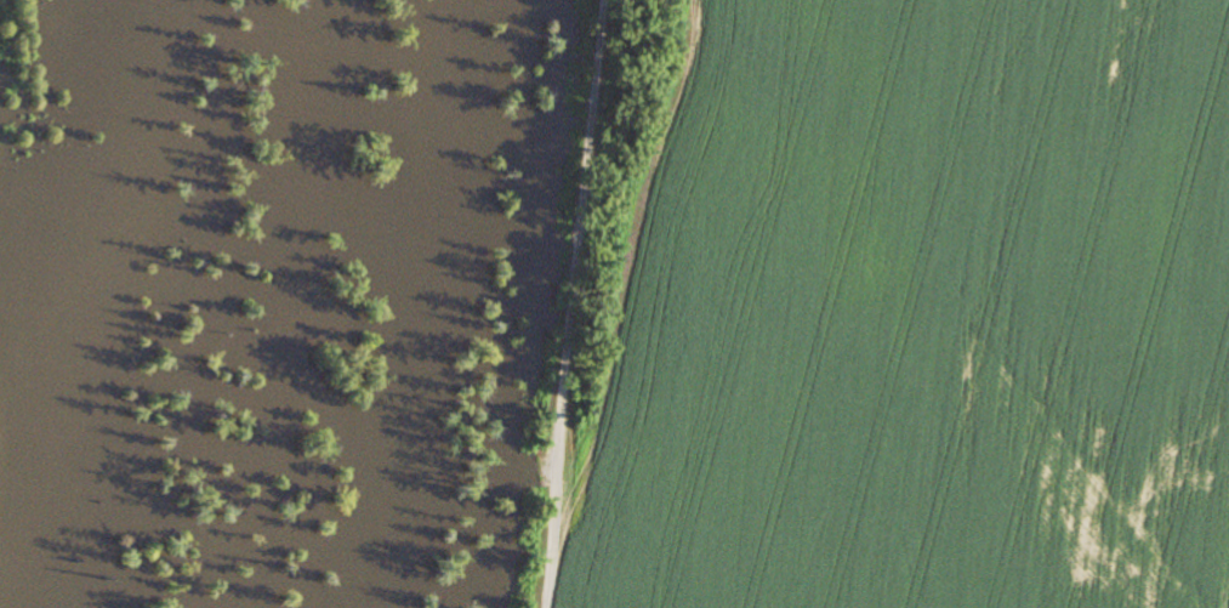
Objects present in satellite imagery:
road: (744, 303)

